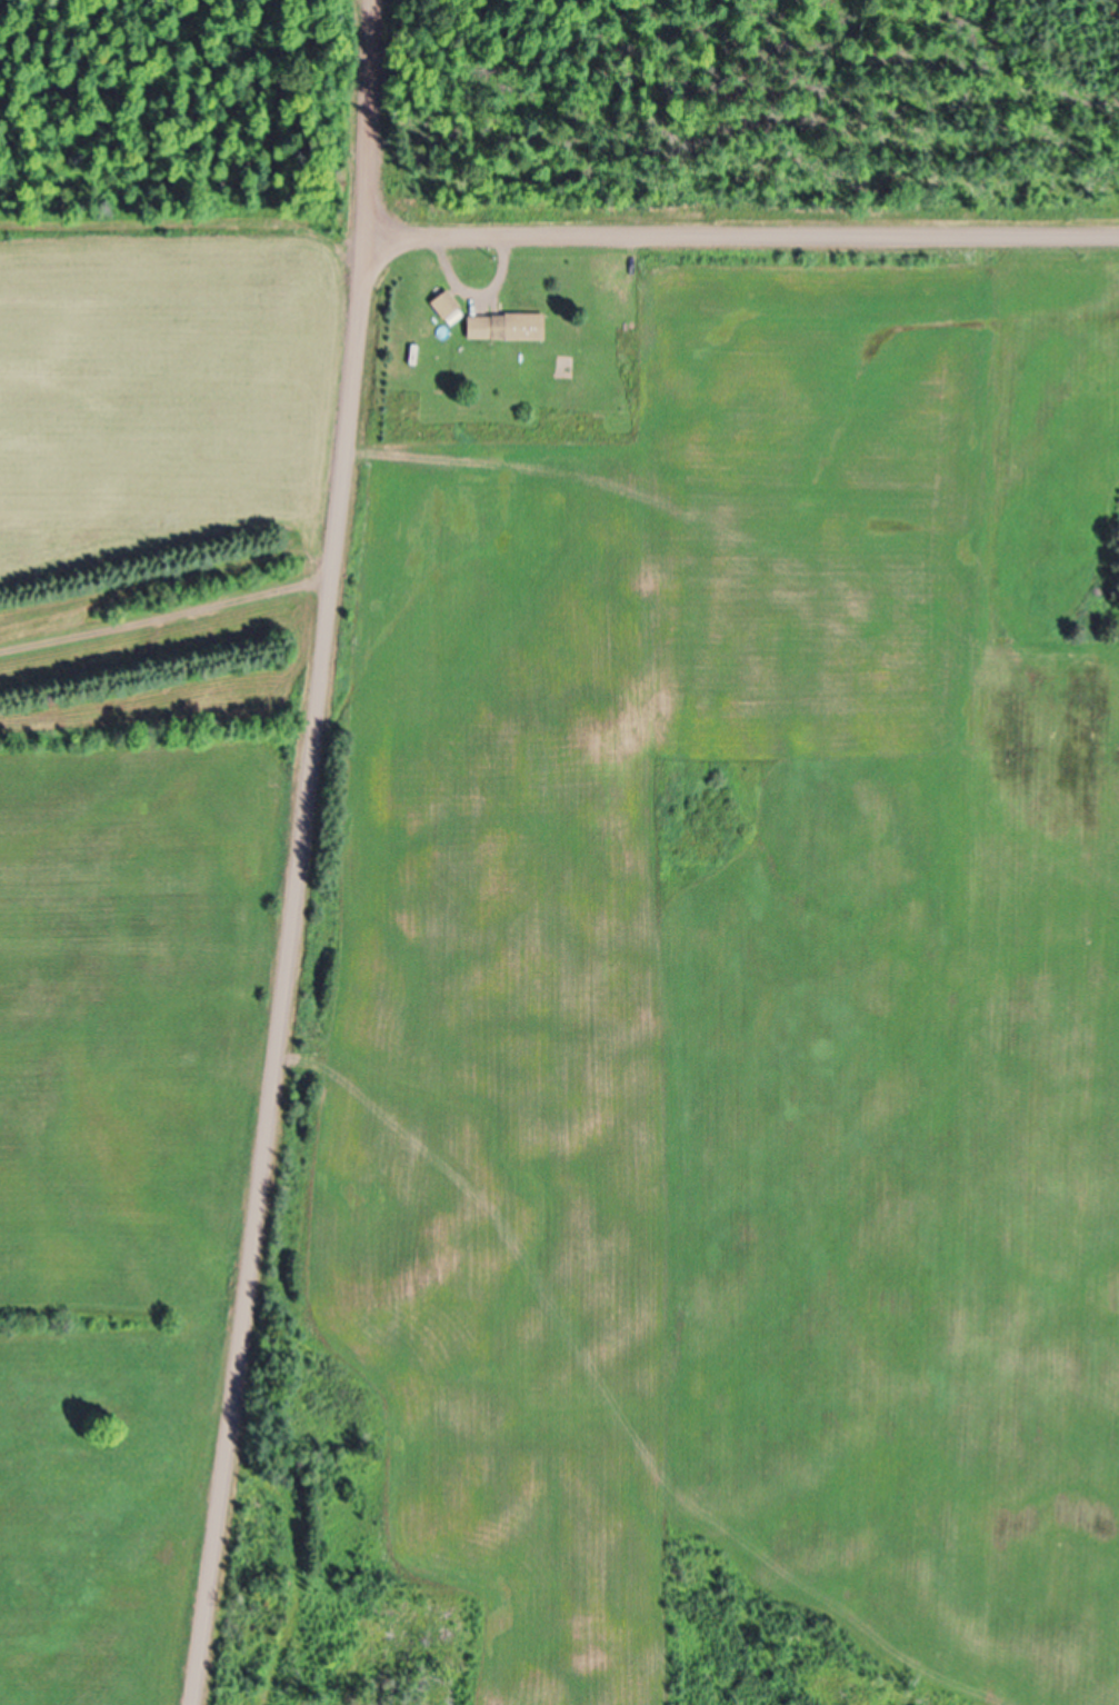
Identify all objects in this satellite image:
road: (743, 239)
road: (477, 297)
building: (443, 308)
building: (504, 329)
road: (168, 618)
road: (303, 854)

